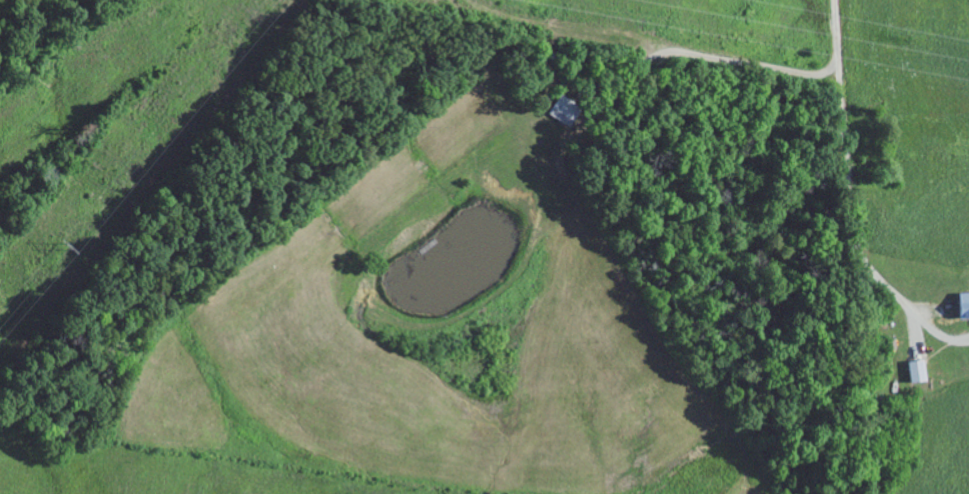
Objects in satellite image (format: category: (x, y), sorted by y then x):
building: (966, 305)
building: (921, 371)

